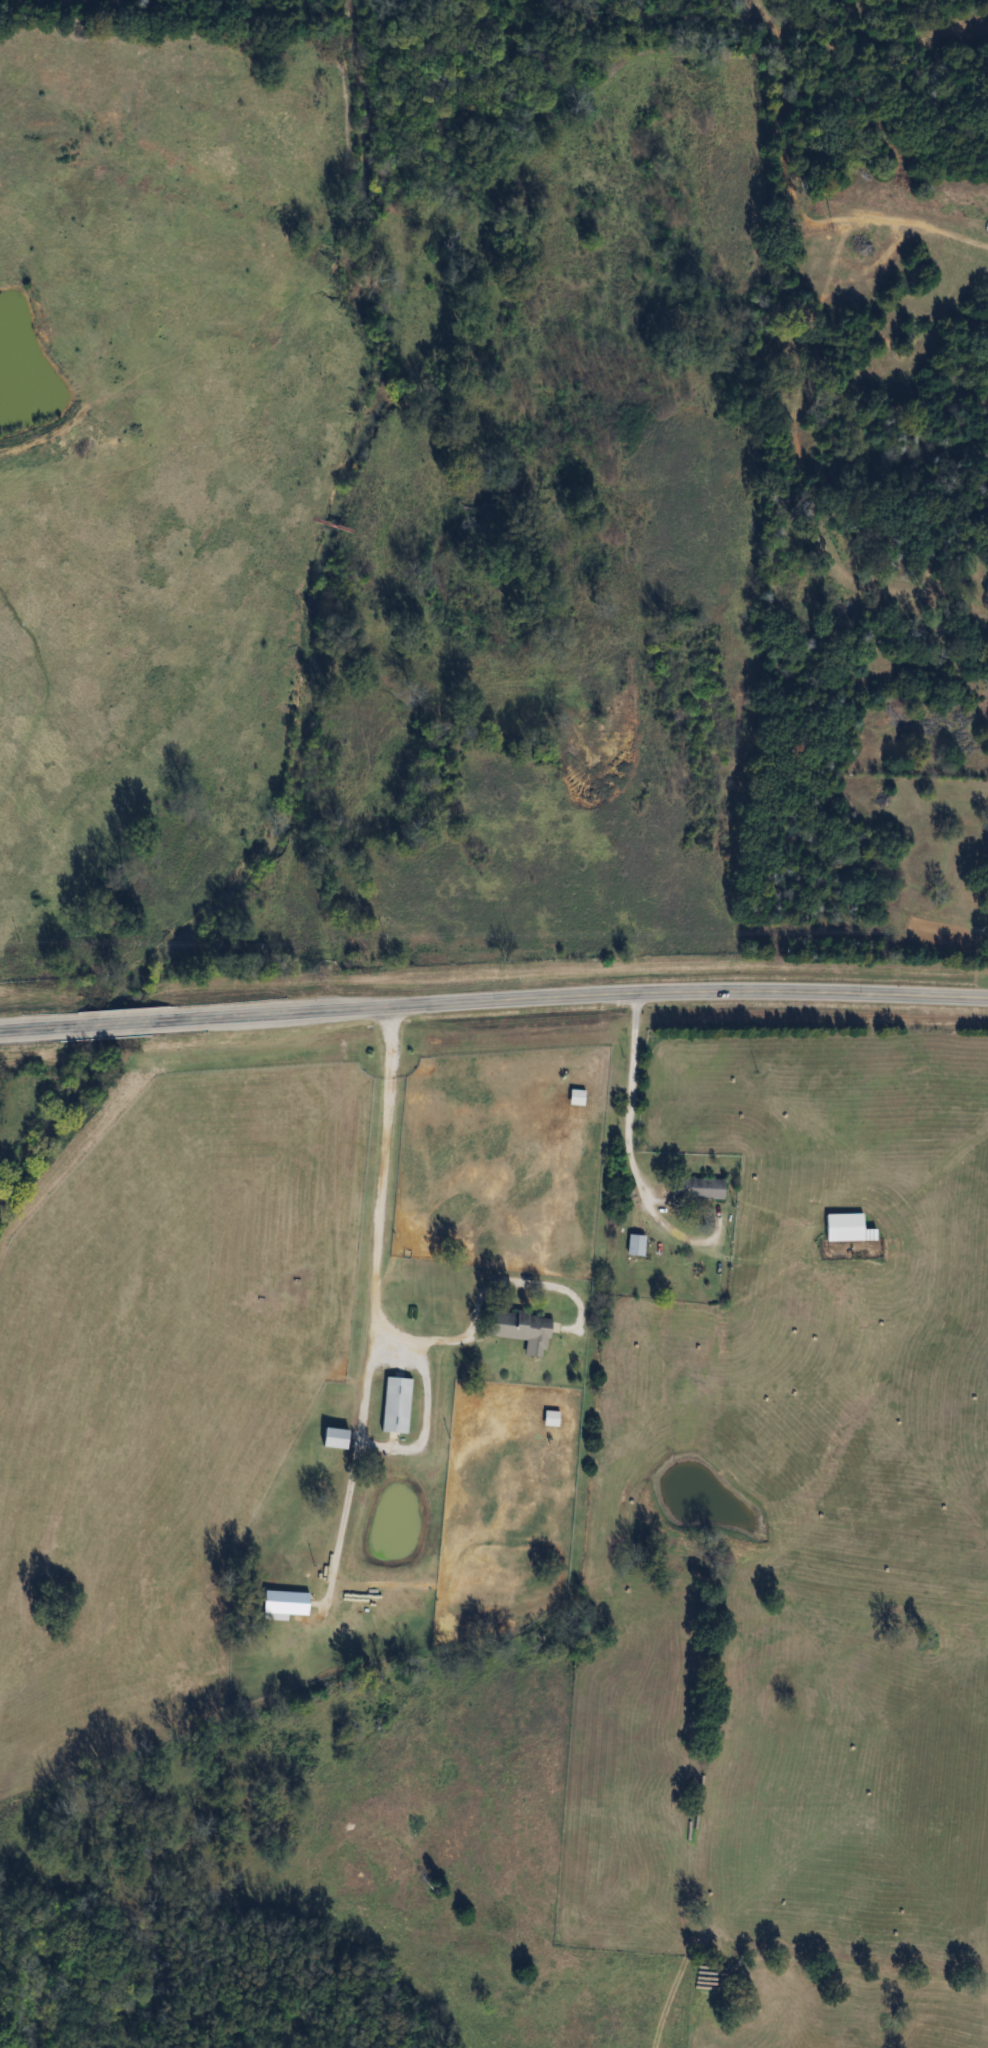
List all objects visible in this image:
road: (493, 998)
road: (627, 1120)
road: (379, 1185)
building: (701, 1188)
building: (847, 1228)
building: (635, 1245)
building: (521, 1330)
building: (395, 1405)
building: (334, 1438)
building: (284, 1603)
road: (660, 2004)

